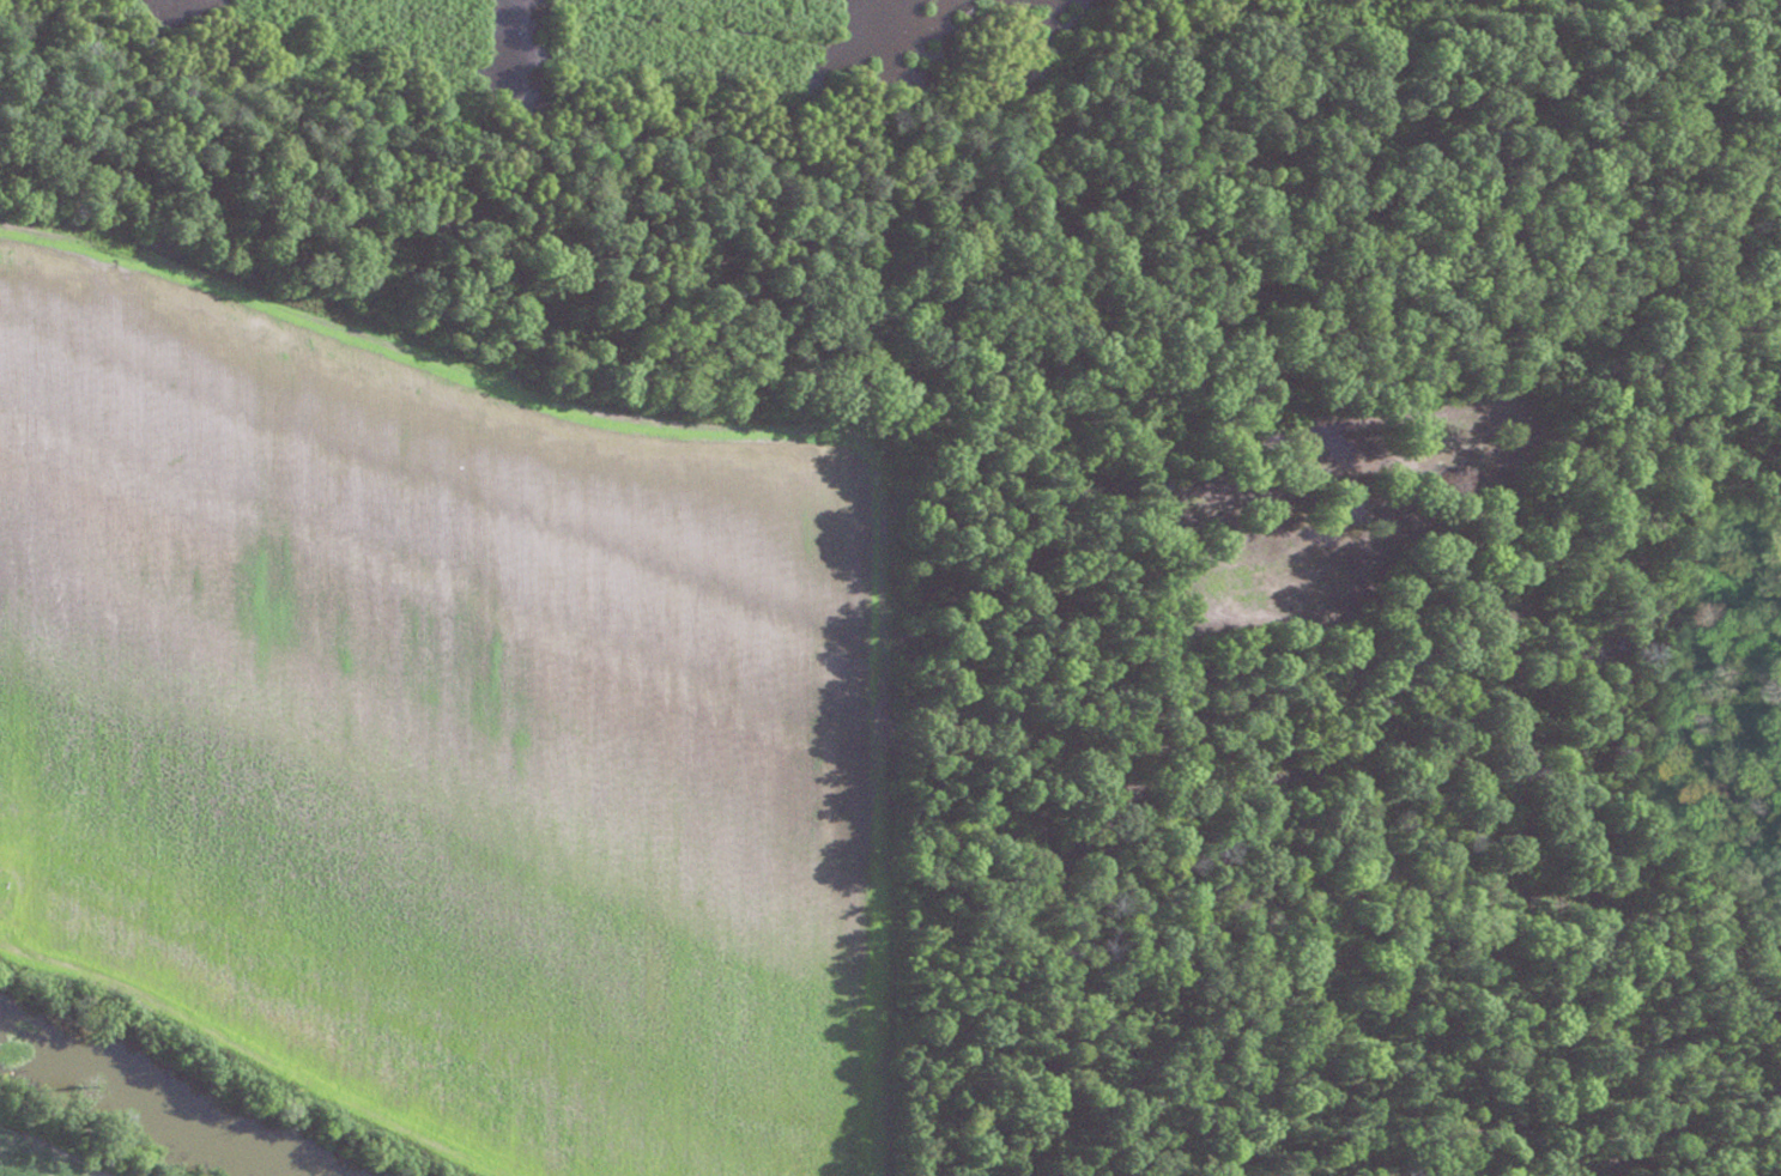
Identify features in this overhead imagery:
river: (151, 1101)

